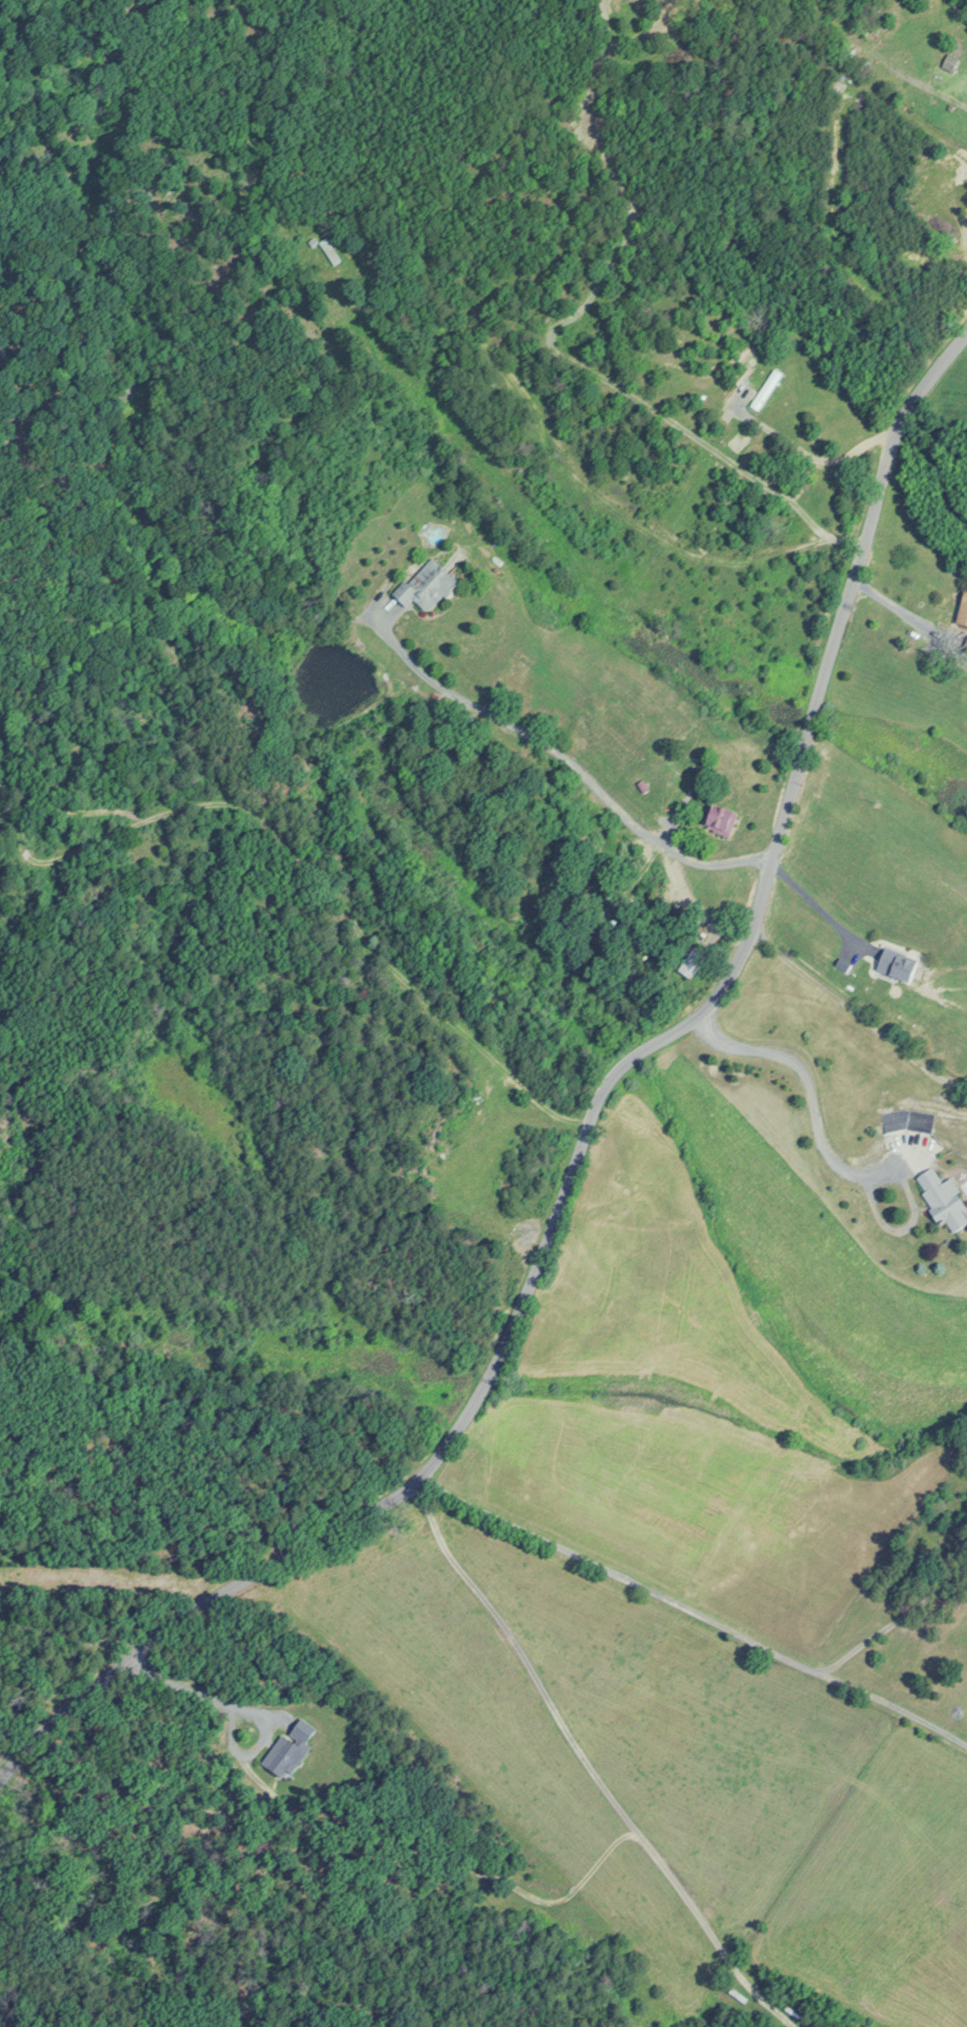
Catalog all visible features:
road: (954, 352)
road: (744, 942)
road: (186, 1606)

